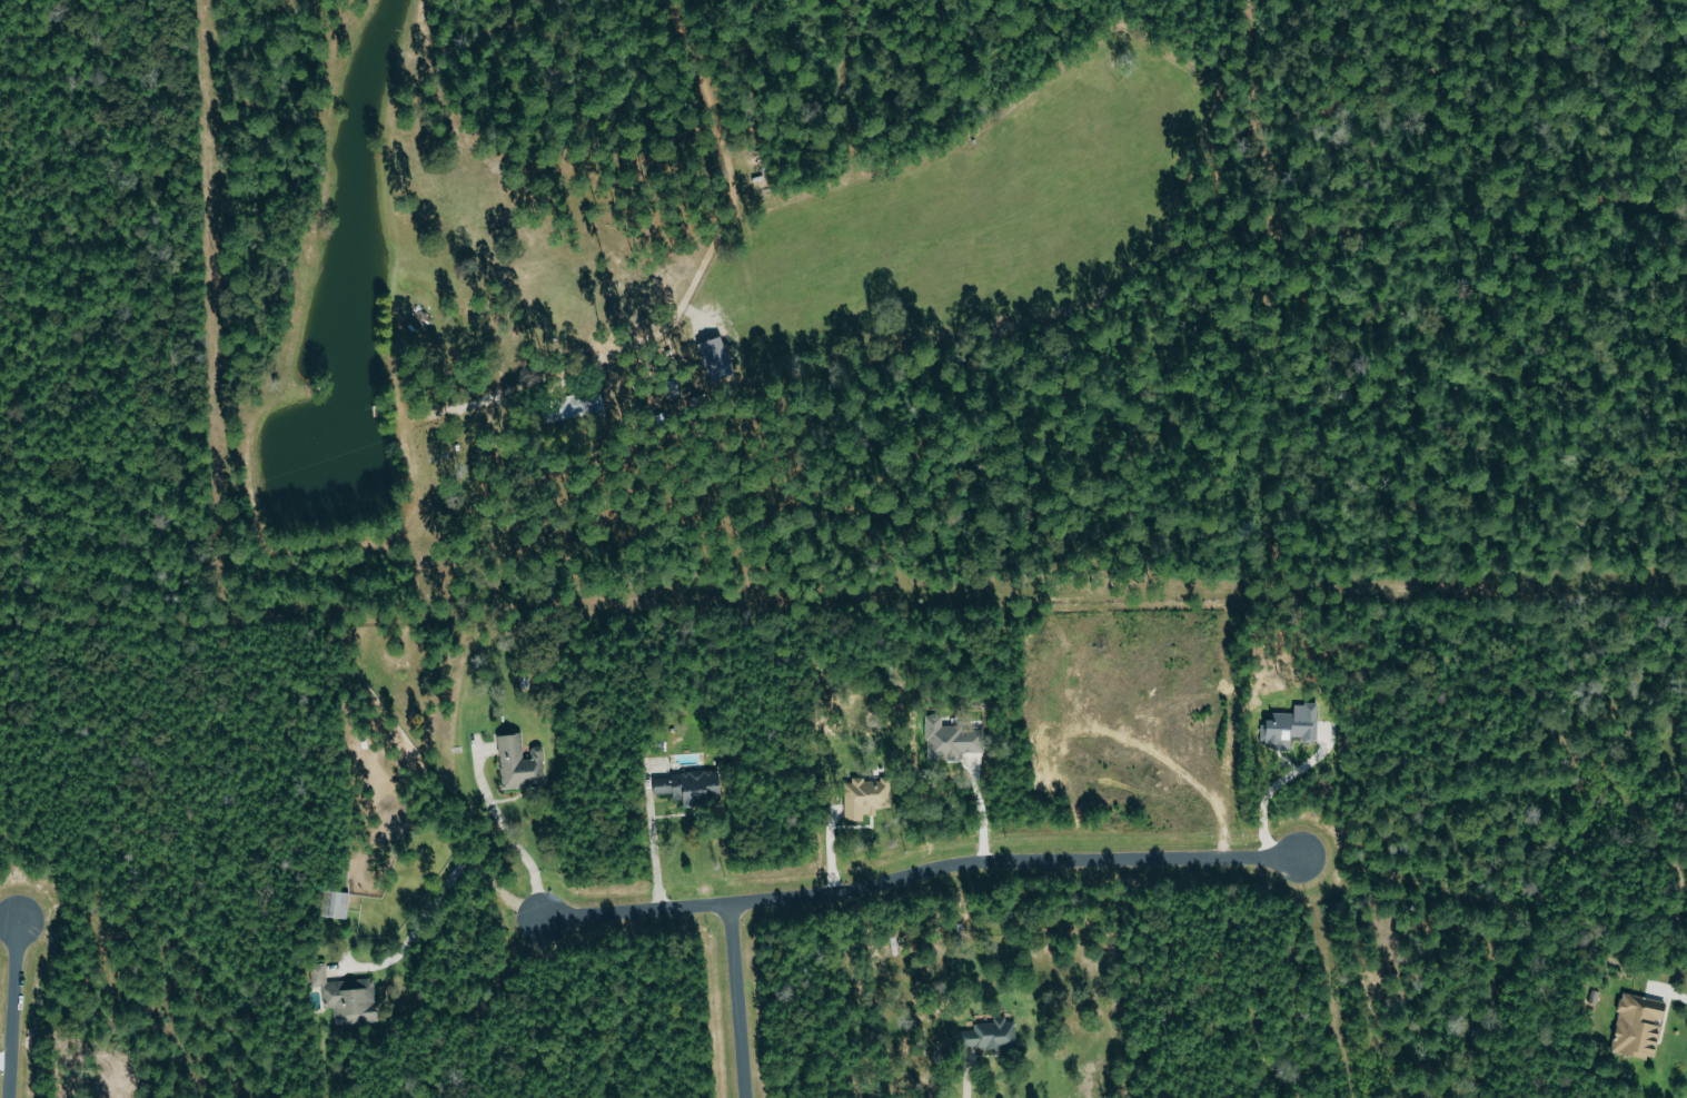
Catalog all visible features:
building: (582, 405)
building: (1293, 724)
building: (951, 739)
building: (520, 762)
building: (691, 785)
building: (866, 797)
road: (1264, 805)
road: (500, 833)
road: (645, 848)
road: (916, 869)
road: (438, 881)
building: (335, 903)
building: (346, 997)
road: (734, 1000)
road: (13, 1007)
building: (1641, 1023)
building: (991, 1035)
road: (4, 1058)
road: (972, 1076)

